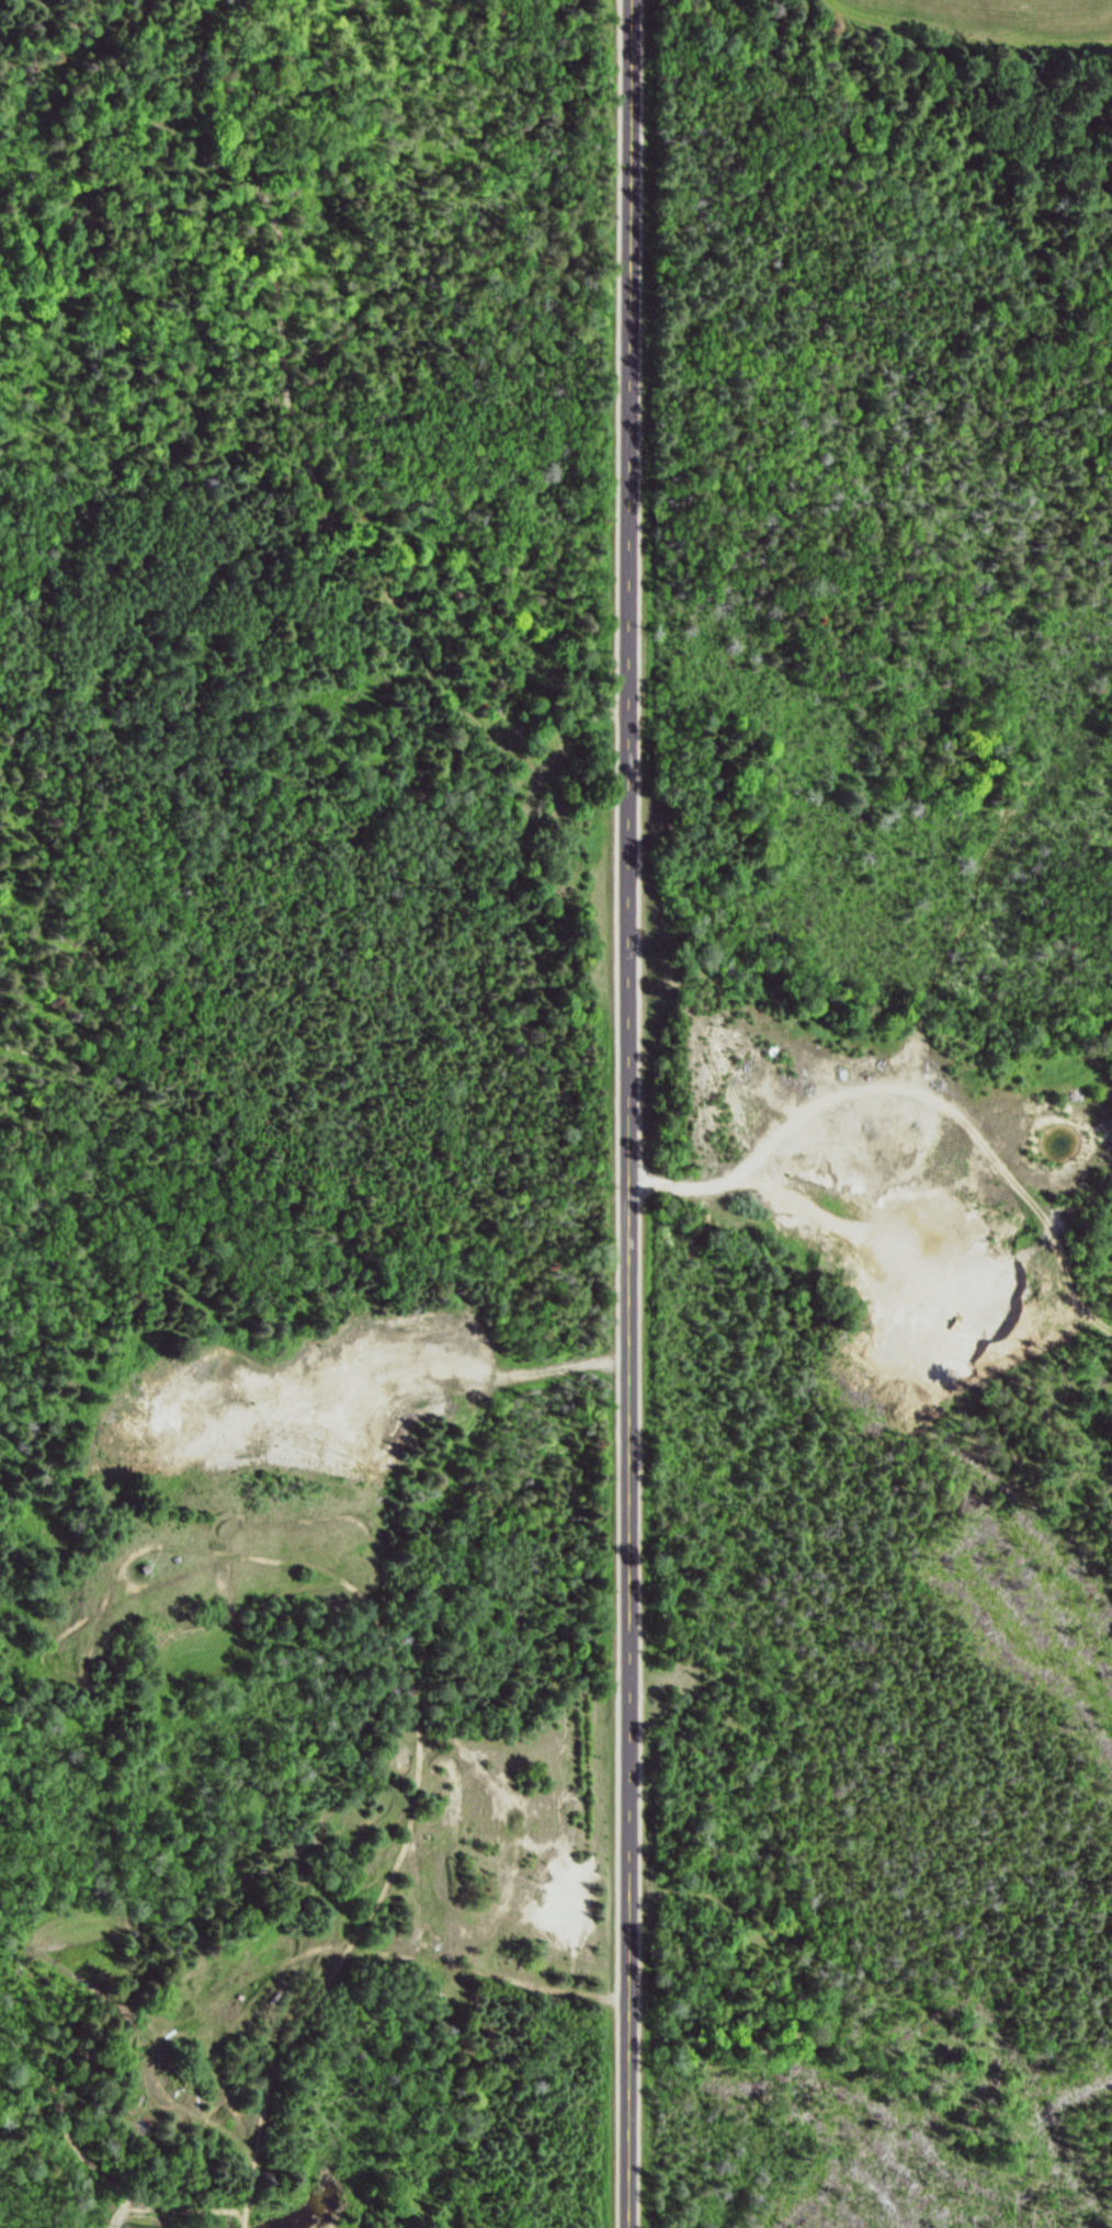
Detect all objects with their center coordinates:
road: (912, 1096)
road: (622, 1113)

